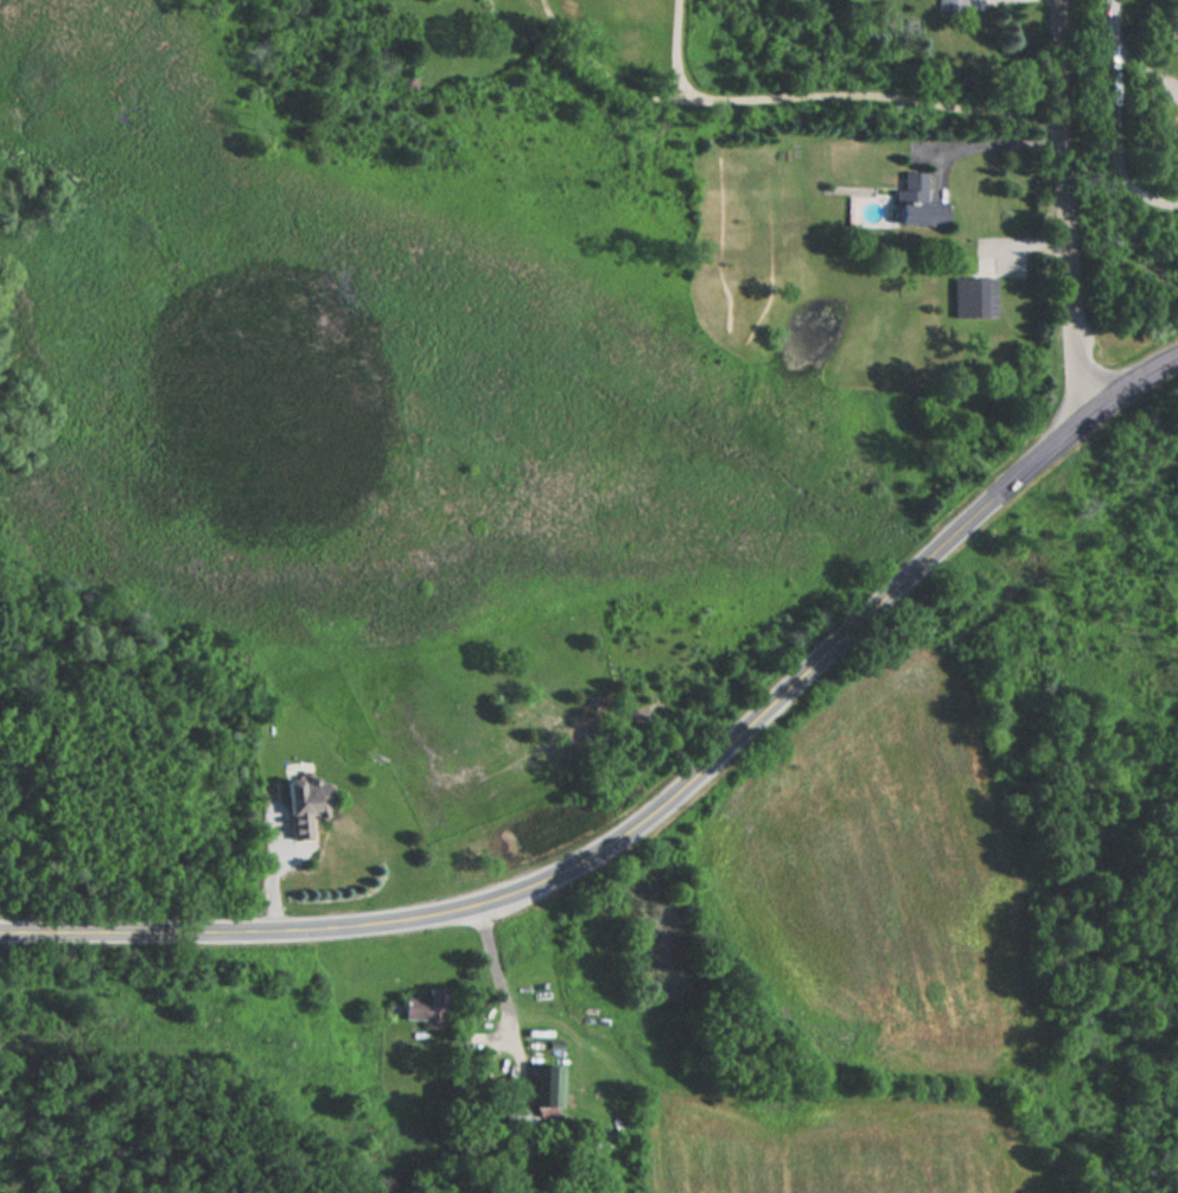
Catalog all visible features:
building: (950, 5)
road: (1115, 23)
road: (1147, 71)
road: (832, 94)
building: (1177, 120)
road: (991, 145)
road: (1115, 146)
building: (1176, 154)
building: (917, 199)
road: (1064, 206)
building: (973, 295)
road: (1135, 381)
building: (301, 805)
road: (619, 835)
road: (498, 972)
building: (424, 1008)
building: (546, 1085)
building: (516, 1123)

